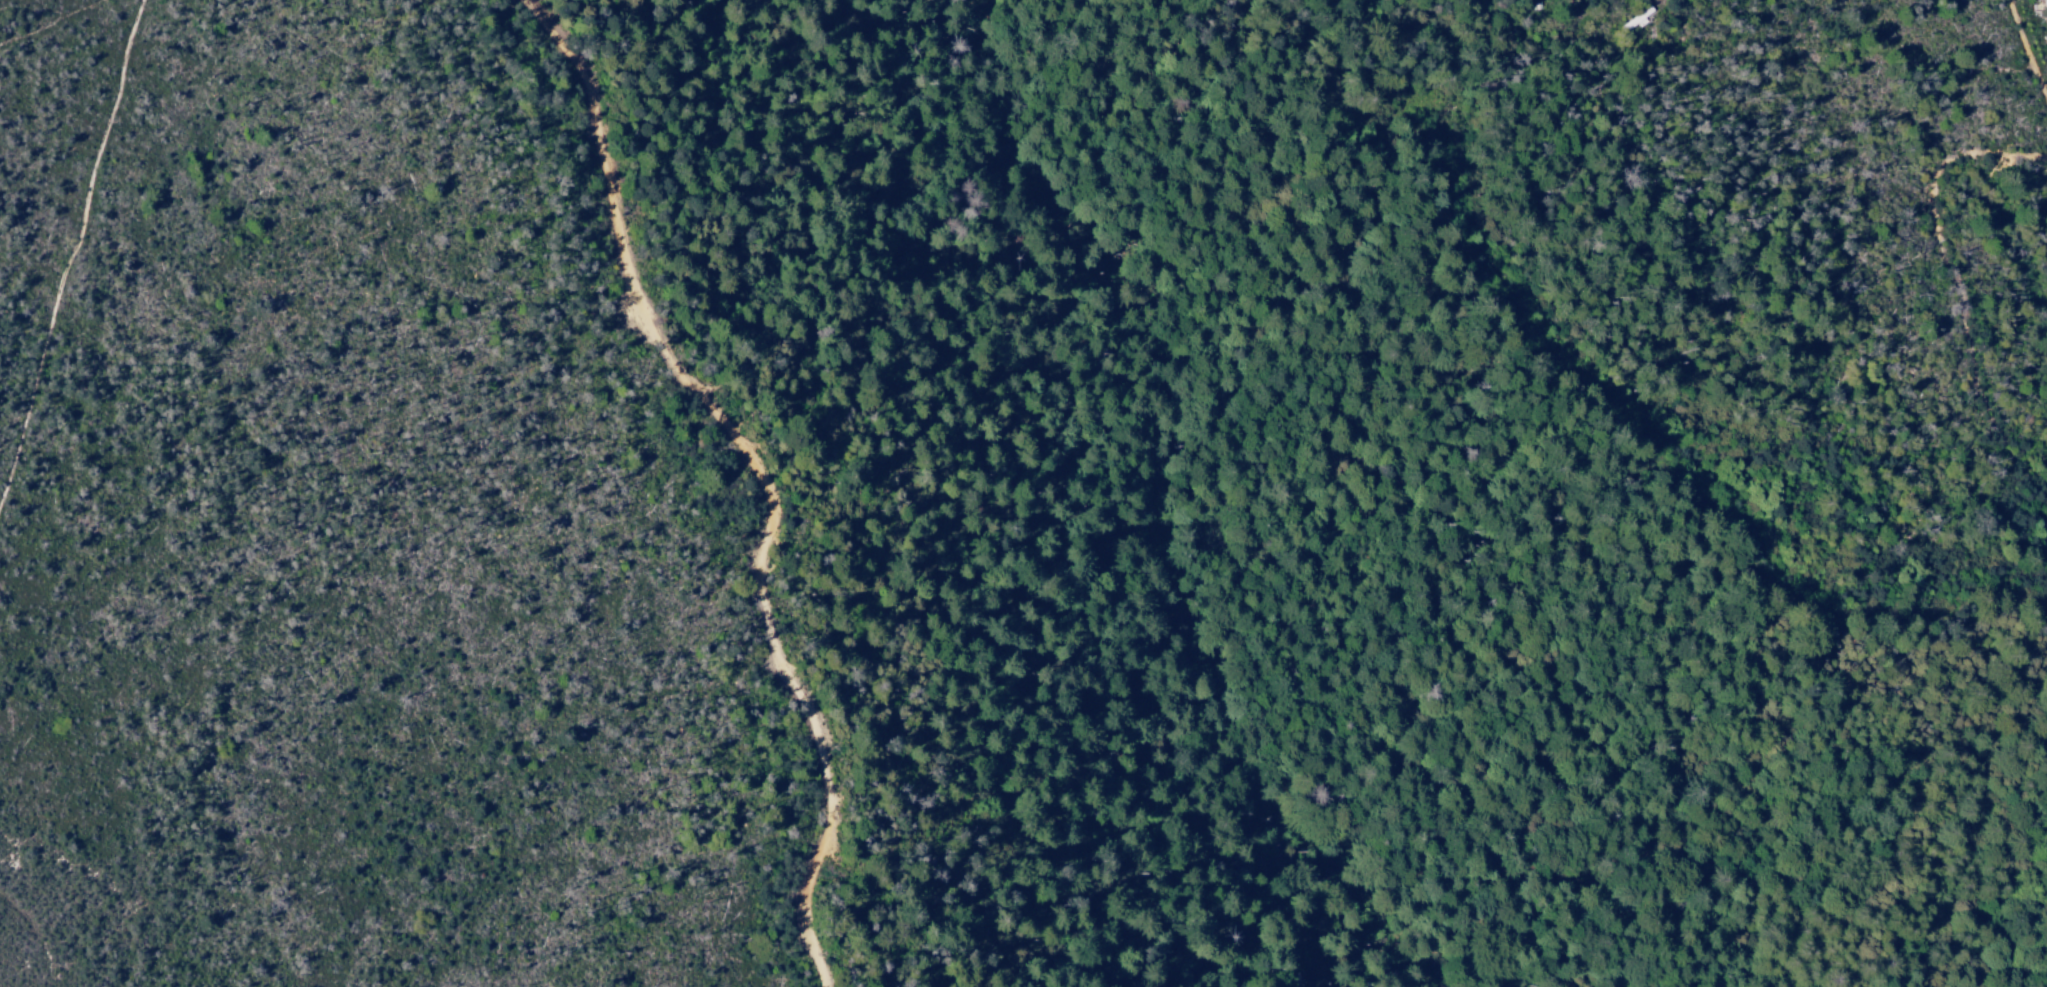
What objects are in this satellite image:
road: (2025, 50)
road: (1962, 294)
road: (742, 472)
road: (1910, 593)

